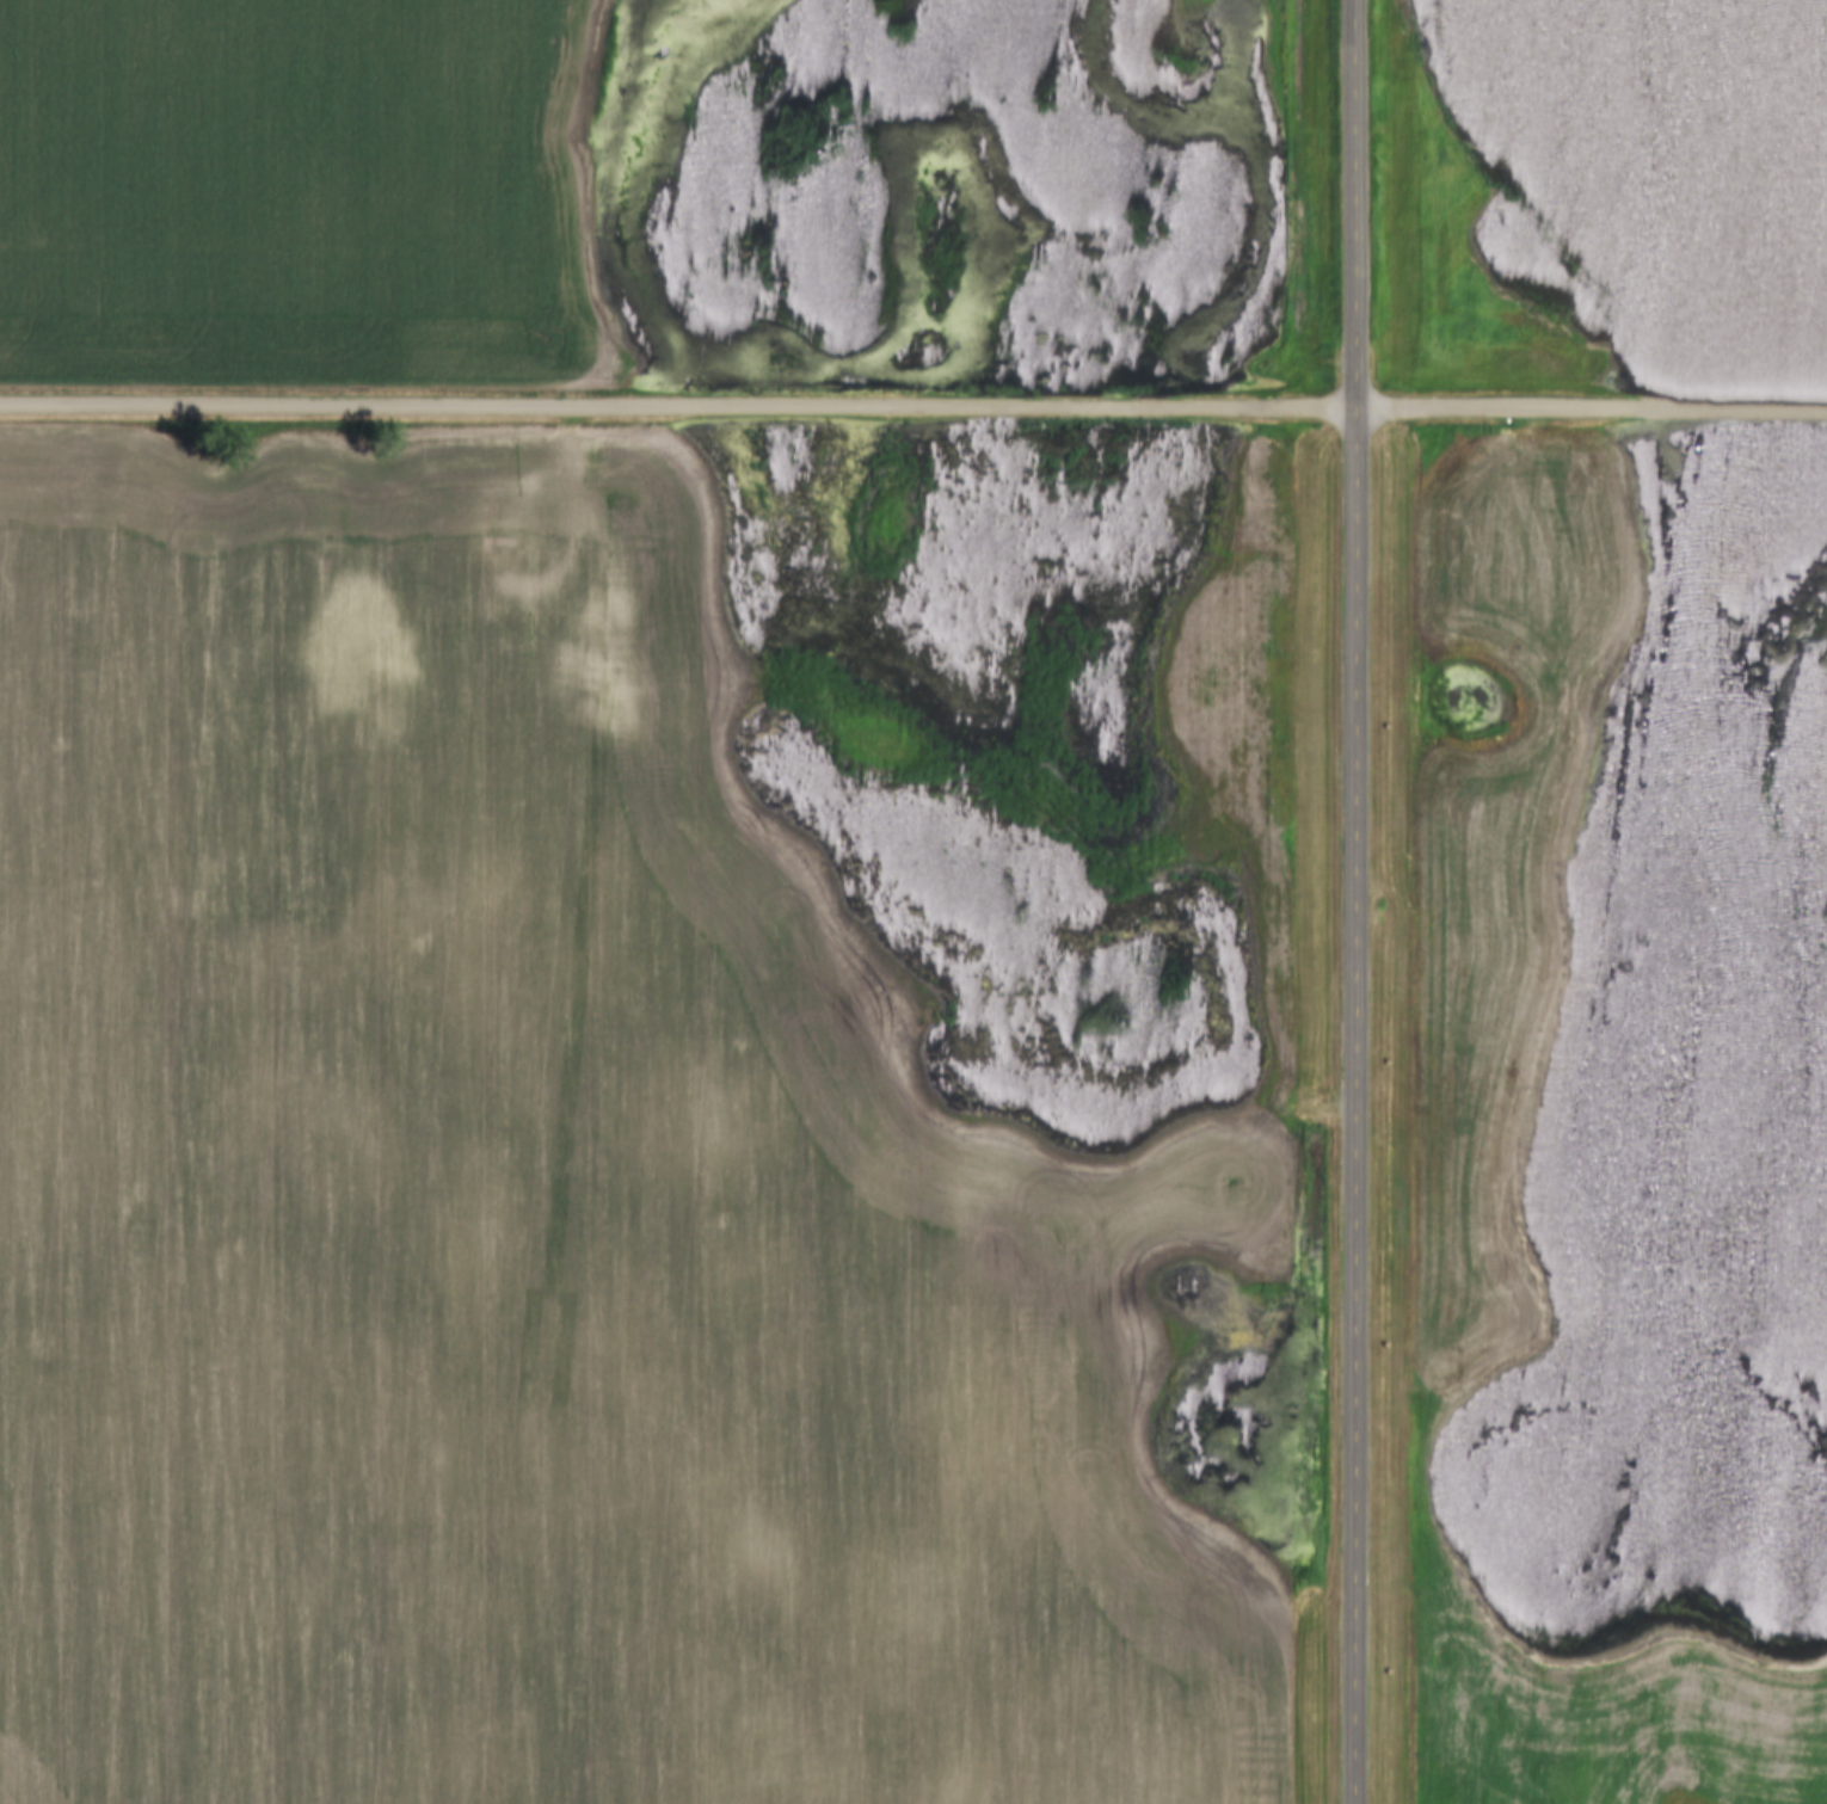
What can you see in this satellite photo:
road: (677, 404)
road: (1591, 407)
road: (1355, 901)

